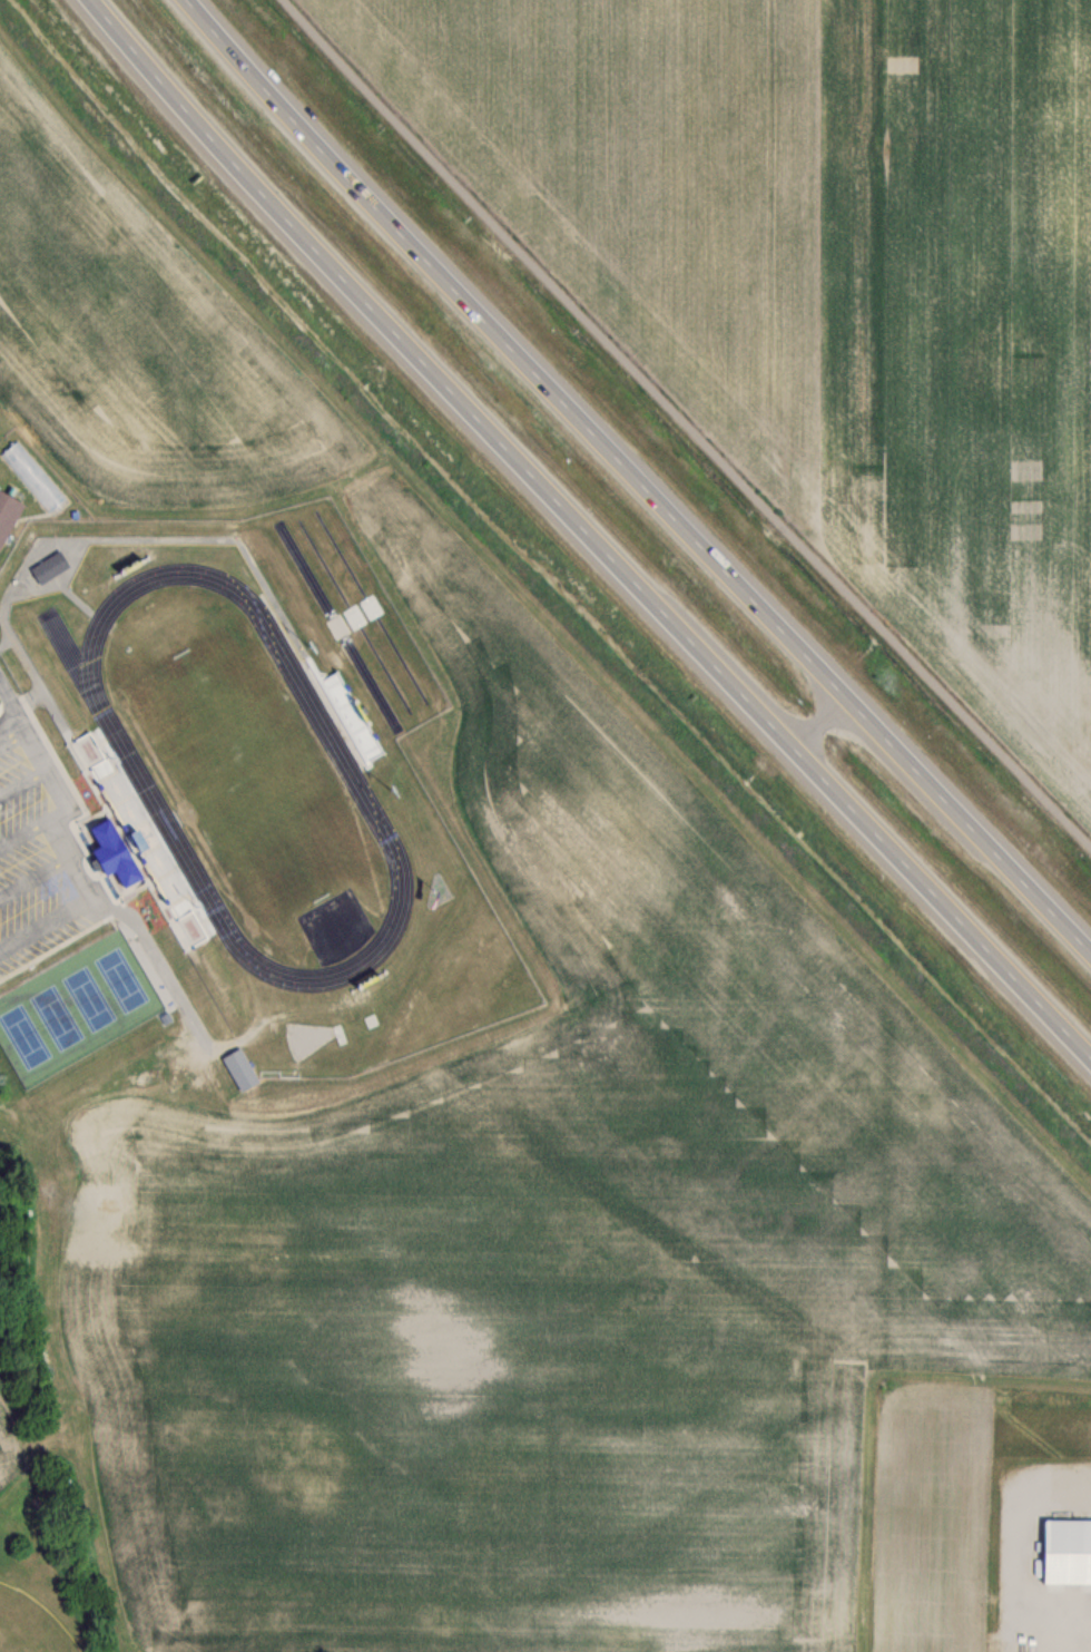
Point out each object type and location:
road: (685, 423)
road: (638, 476)
building: (7, 511)
road: (587, 531)
building: (49, 567)
road: (805, 704)
road: (11, 707)
track: (137, 769)
park: (254, 772)
road: (37, 852)
parking lot: (45, 854)
road: (92, 859)
road: (18, 905)
road: (0, 957)
building: (1065, 1551)
road: (1072, 1648)

